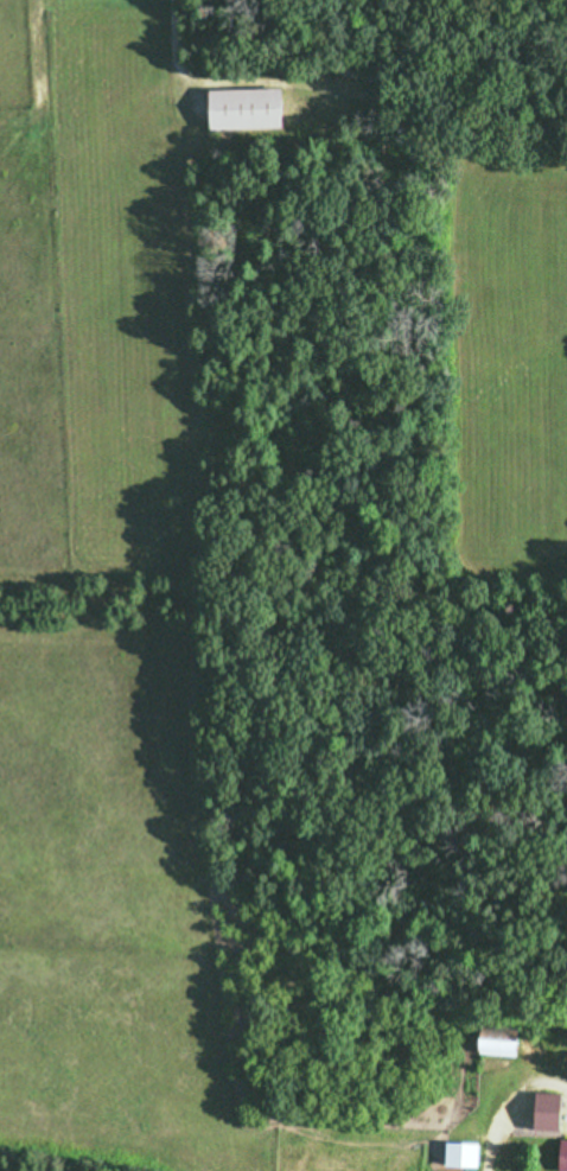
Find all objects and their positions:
building: (240, 107)
road: (504, 1101)
building: (549, 1110)
building: (460, 1153)
building: (561, 1154)

